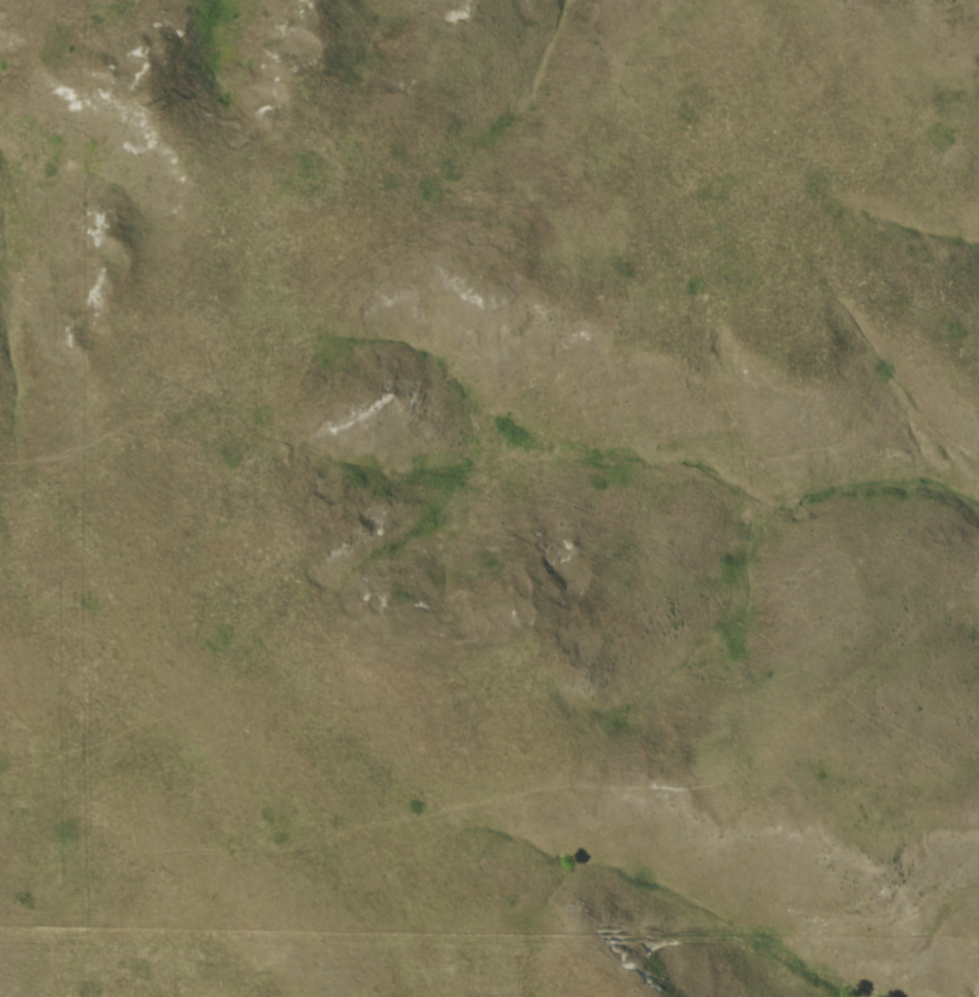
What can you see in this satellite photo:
power tower: (159, 107)

